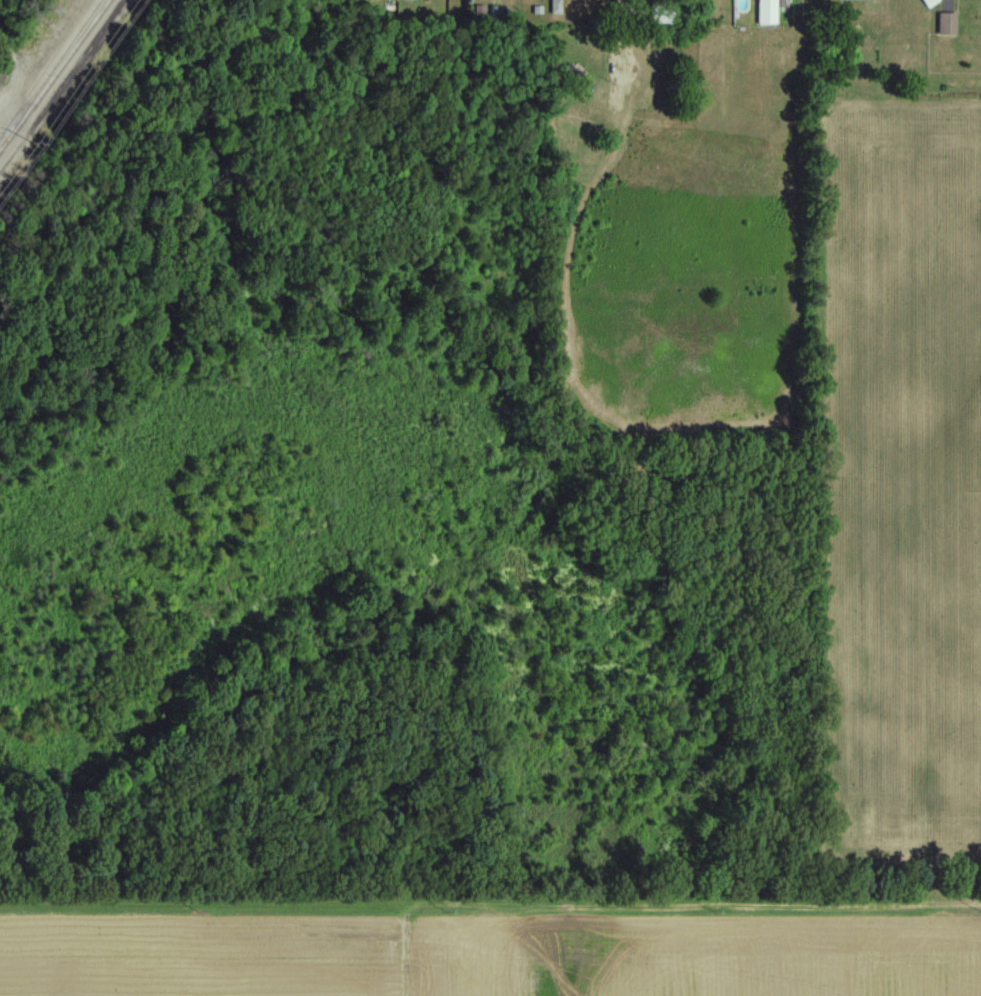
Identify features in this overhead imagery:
building: (930, 2)
building: (784, 9)
building: (767, 12)
road: (624, 14)
building: (662, 15)
building: (948, 24)
railway: (50, 75)
railway: (57, 79)
building: (650, 105)

